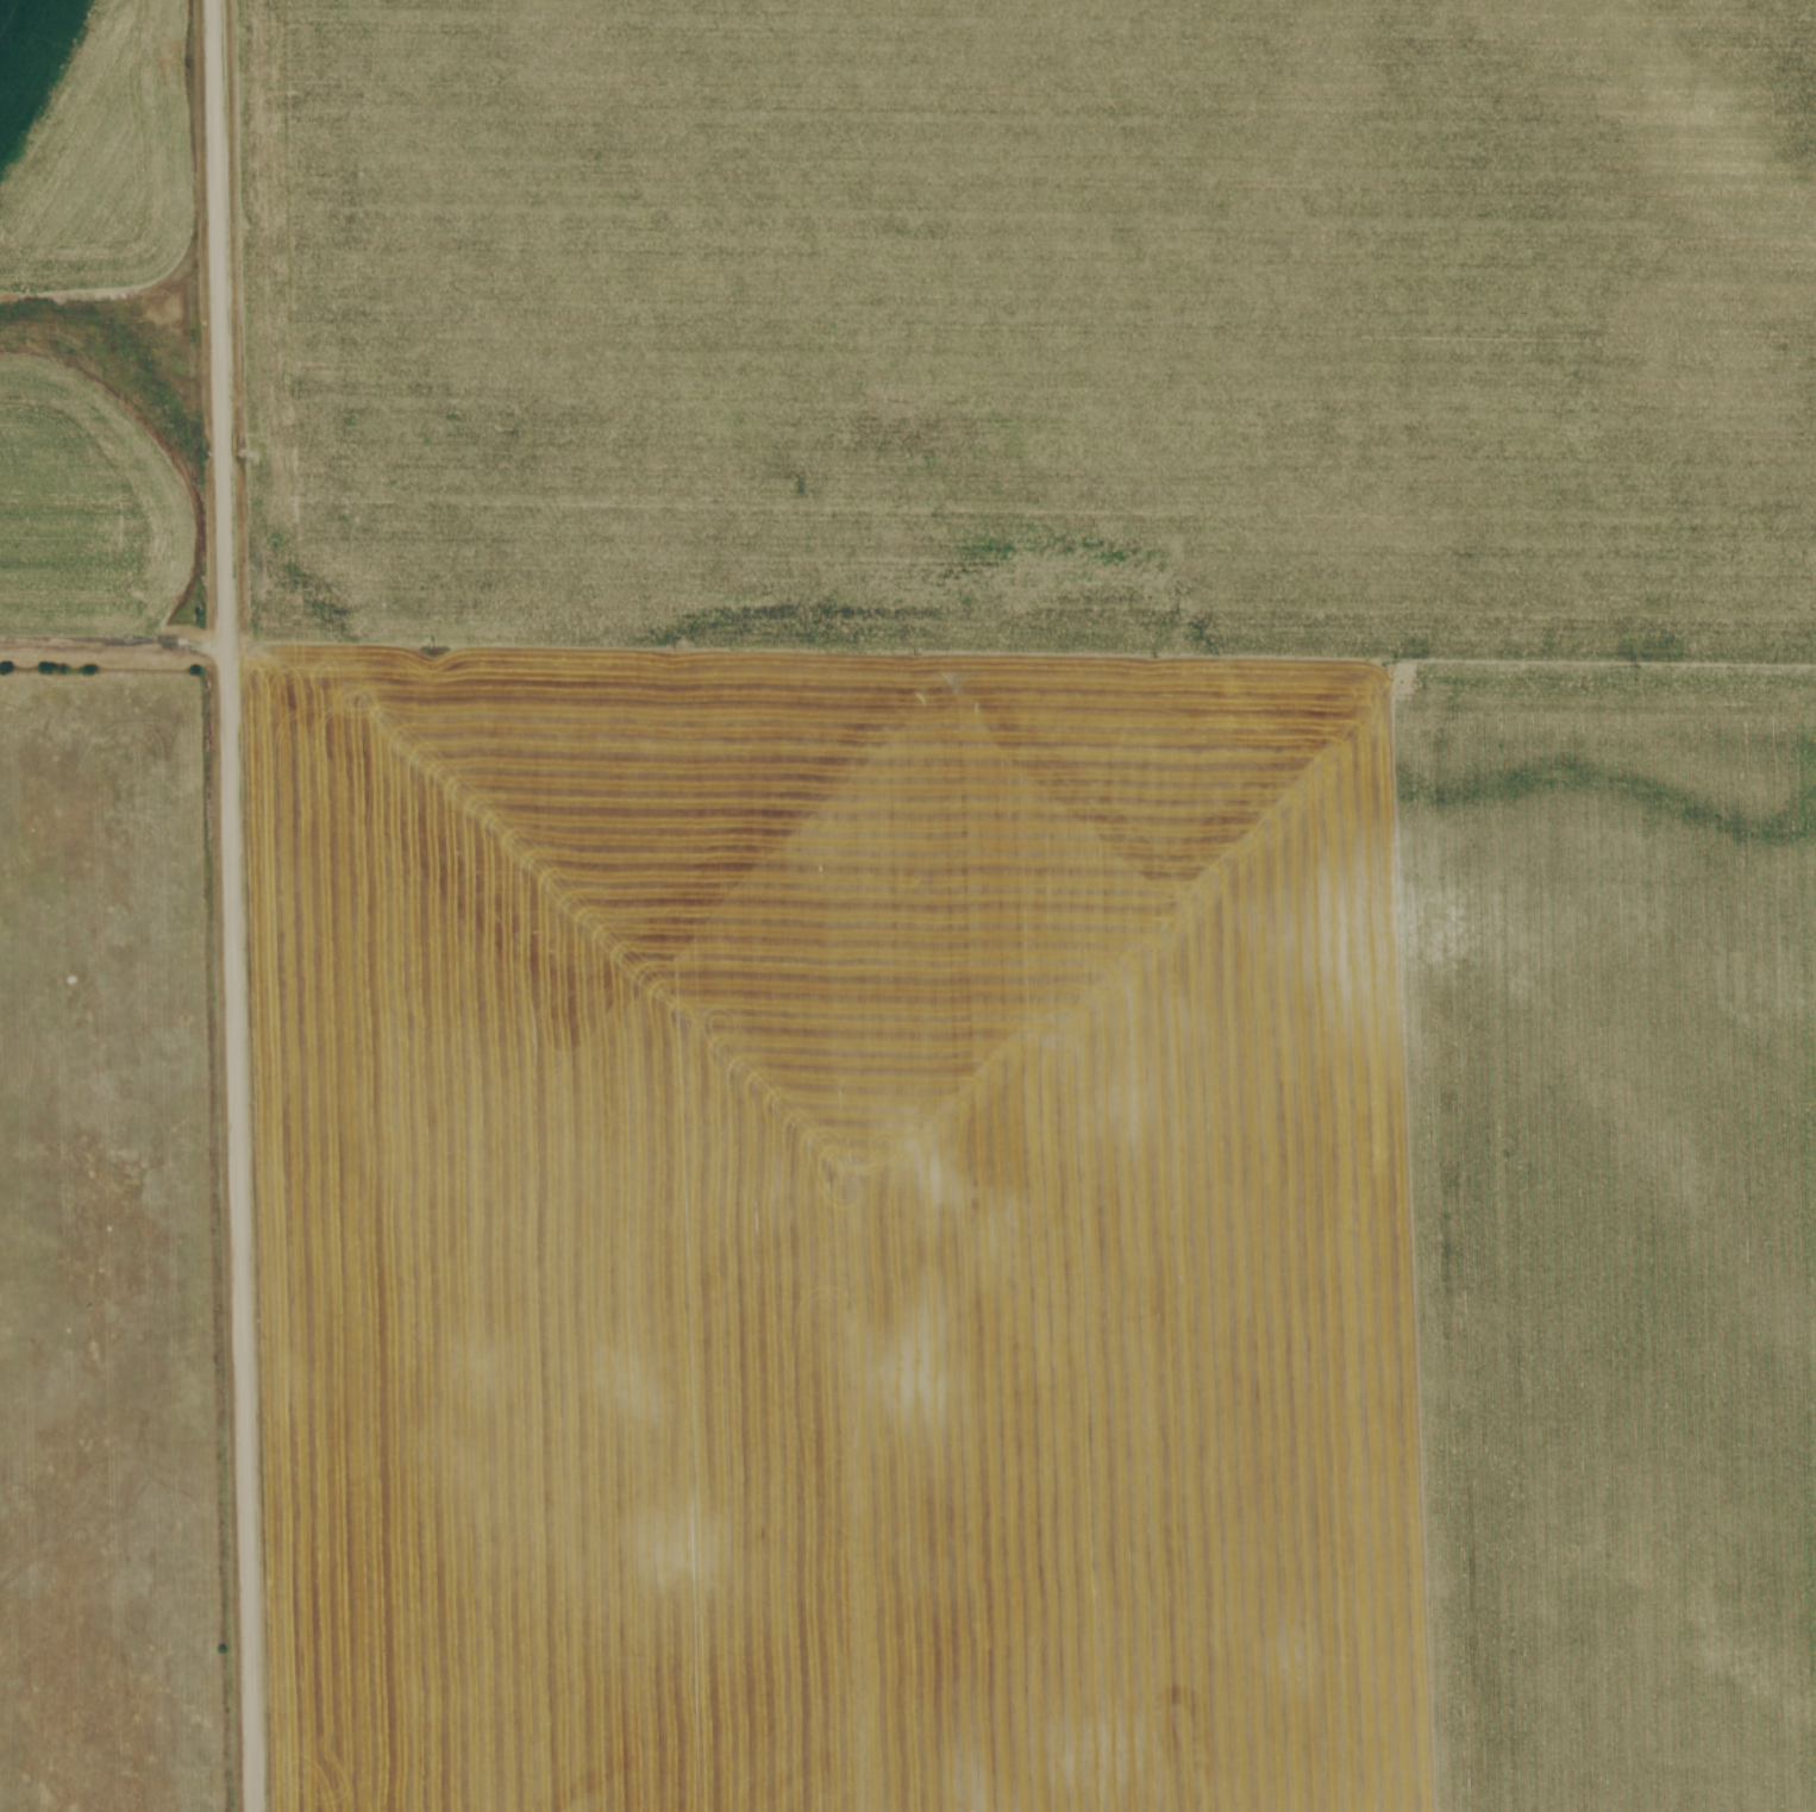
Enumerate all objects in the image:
road: (233, 905)

